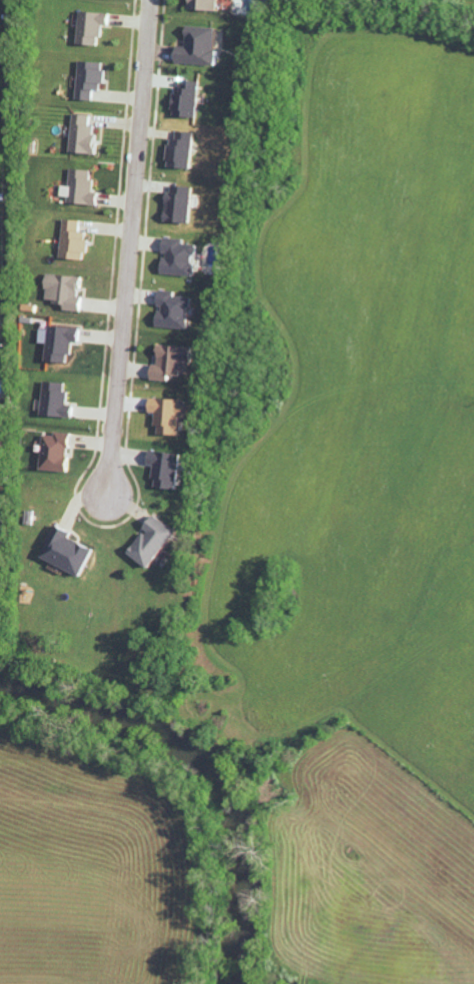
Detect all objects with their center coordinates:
building: (208, 4)
building: (94, 26)
building: (202, 46)
building: (92, 78)
building: (189, 98)
building: (86, 134)
building: (184, 150)
building: (83, 187)
building: (182, 204)
building: (76, 240)
road: (127, 245)
building: (182, 257)
building: (68, 291)
building: (177, 310)
building: (64, 342)
building: (175, 361)
building: (59, 400)
building: (173, 414)
building: (59, 452)
building: (169, 468)
building: (157, 542)
building: (71, 551)
river: (208, 766)

